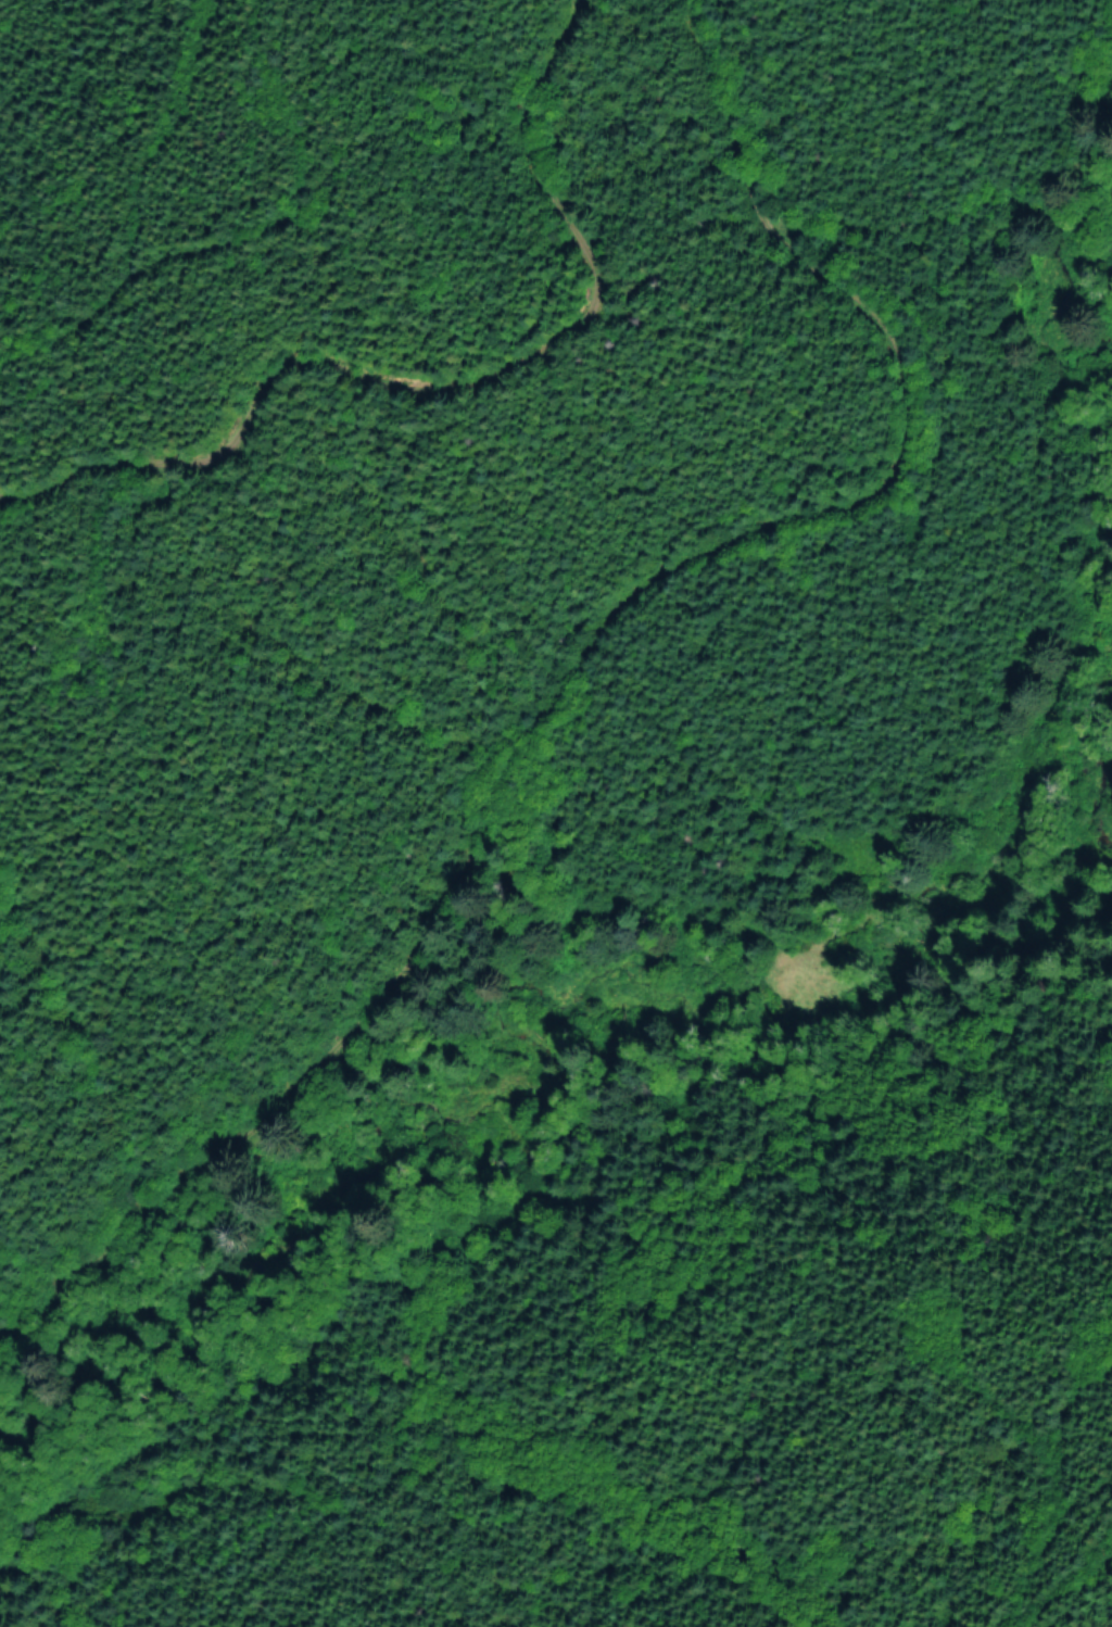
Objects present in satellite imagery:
road: (596, 708)

